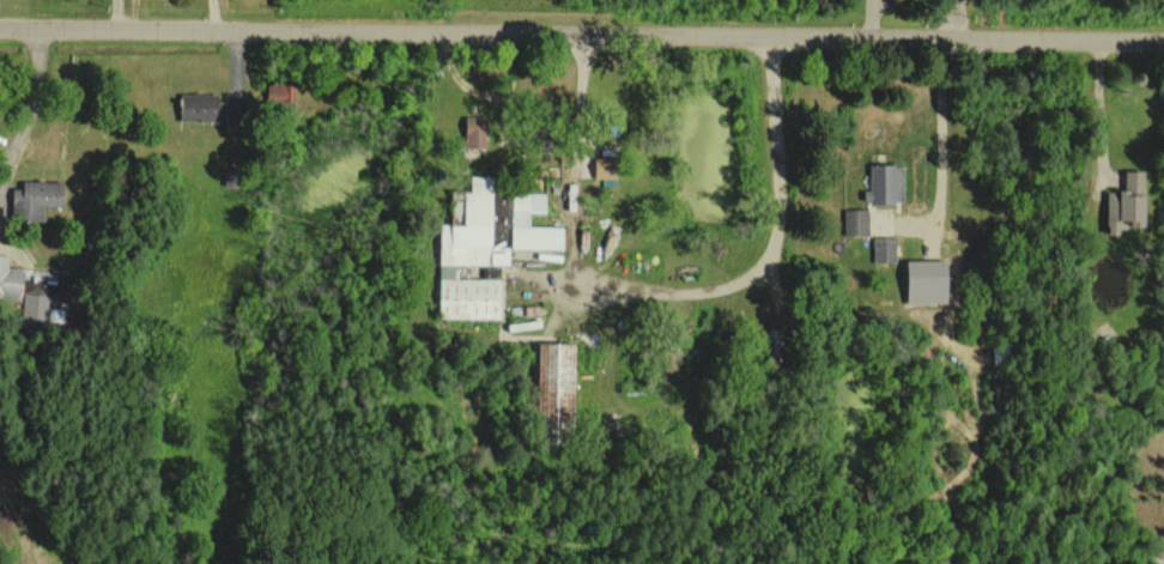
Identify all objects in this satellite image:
road: (582, 24)
building: (280, 93)
road: (34, 105)
road: (1103, 105)
building: (198, 107)
road: (946, 128)
building: (474, 131)
building: (605, 169)
building: (884, 183)
building: (35, 198)
building: (1124, 201)
building: (520, 218)
building: (855, 220)
road: (770, 244)
building: (884, 248)
building: (471, 257)
building: (10, 279)
building: (924, 280)
building: (554, 389)

